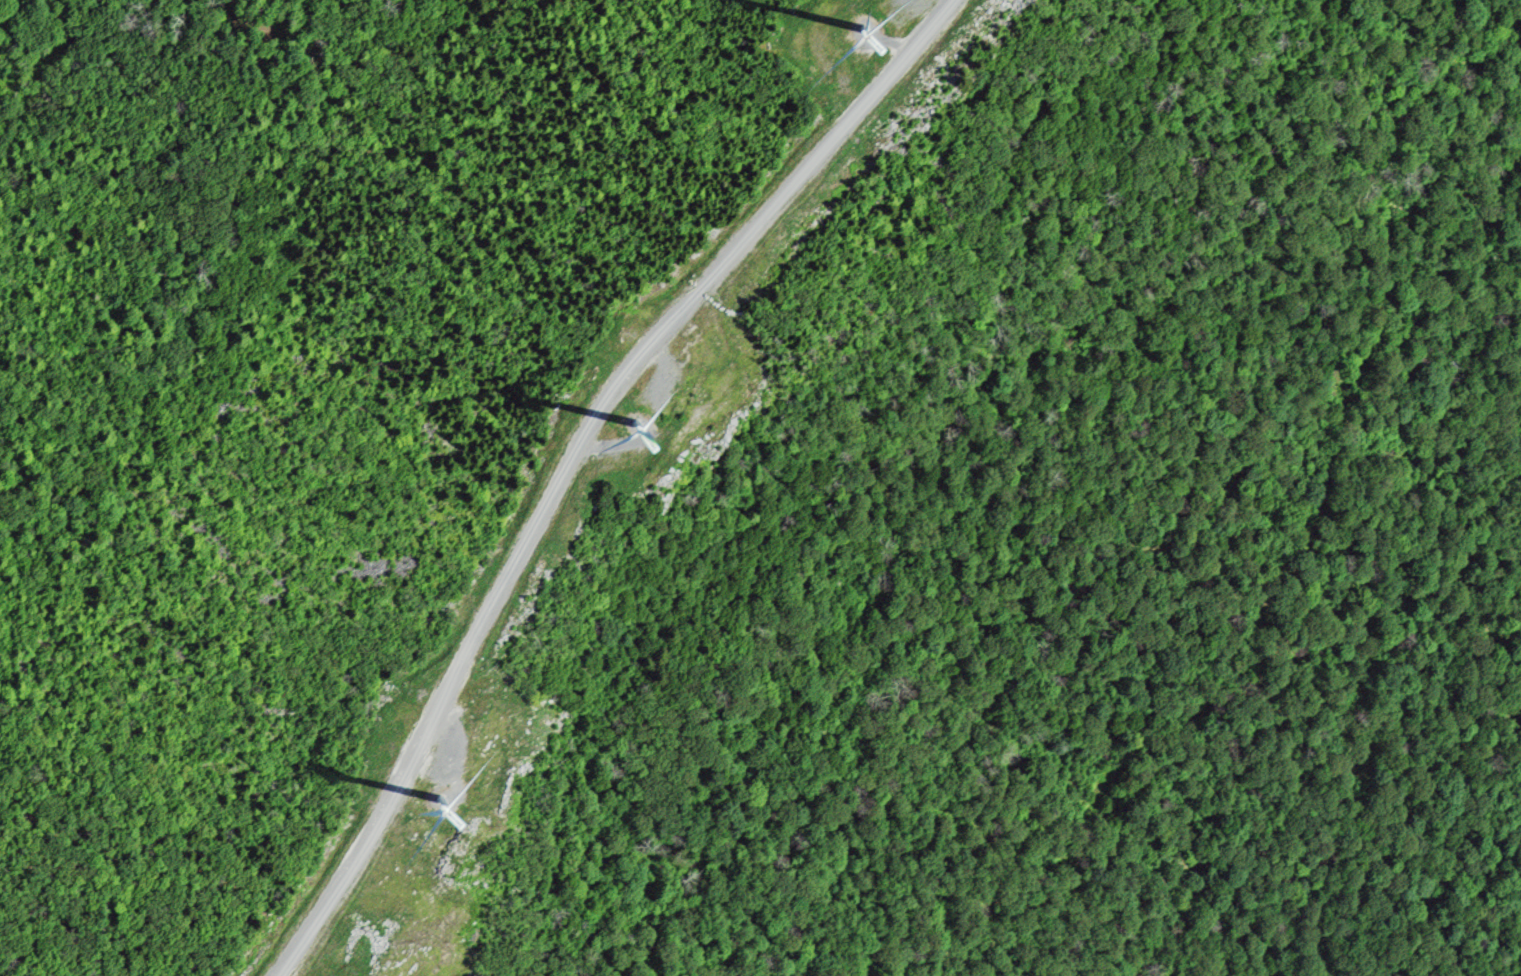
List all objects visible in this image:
wind turbine: (864, 29)
wind turbine: (639, 424)
road: (572, 458)
wind turbine: (443, 799)

